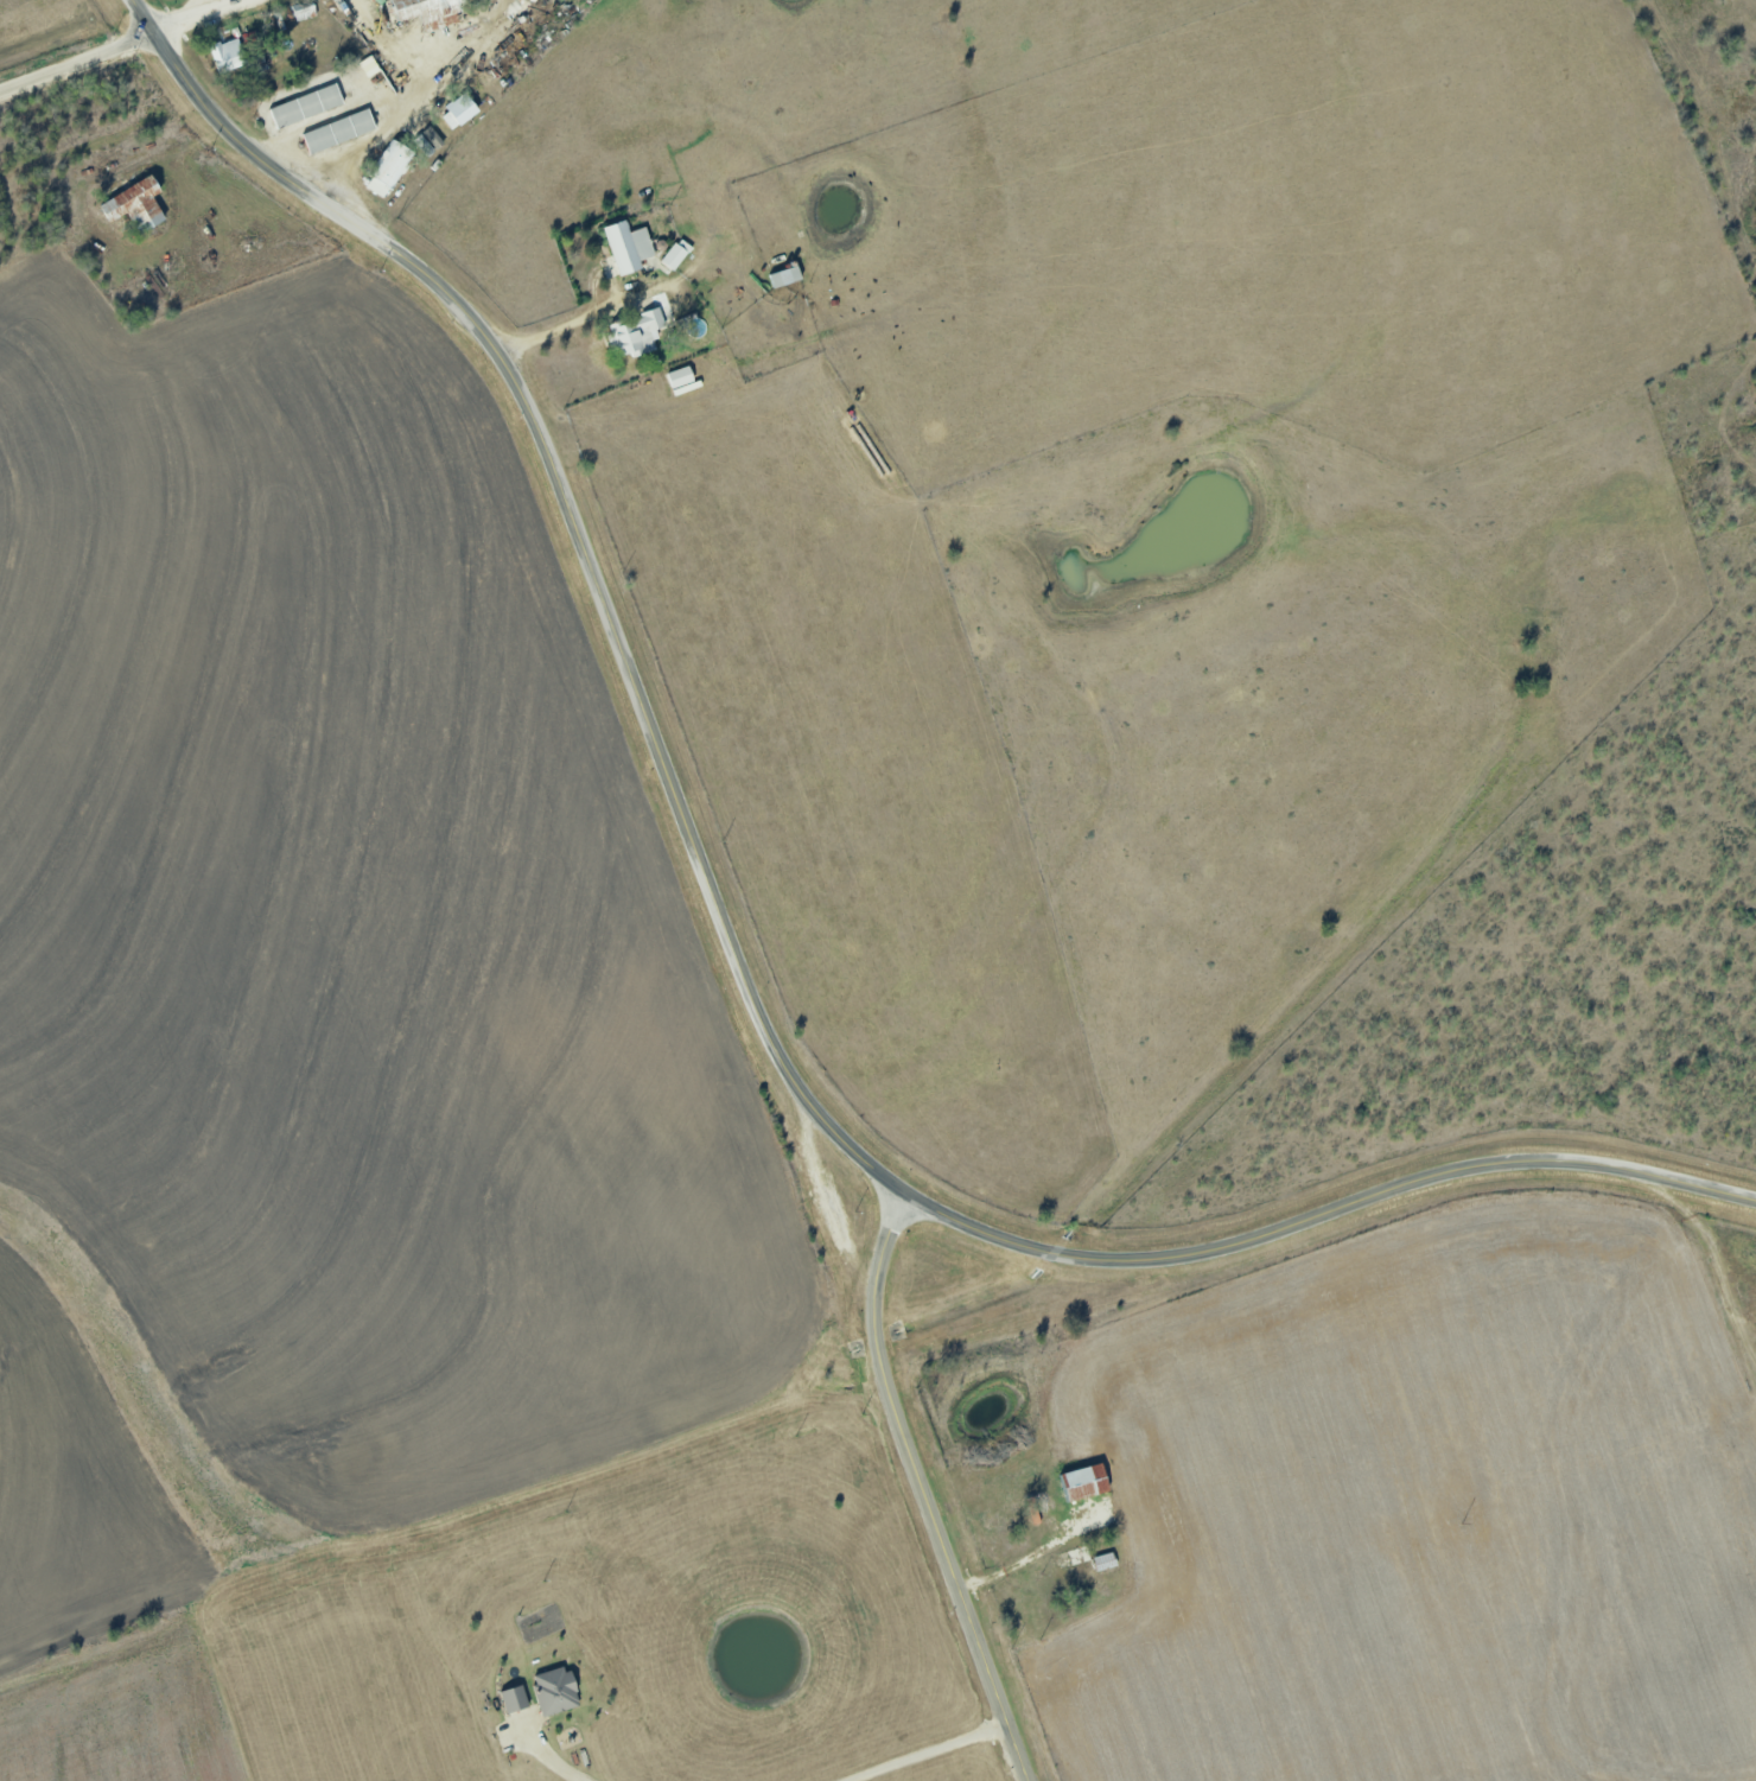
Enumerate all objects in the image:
road: (204, 5)
building: (426, 9)
road: (119, 46)
building: (228, 55)
building: (306, 107)
building: (459, 112)
building: (338, 132)
building: (433, 138)
building: (388, 170)
building: (135, 203)
building: (628, 246)
building: (676, 254)
building: (784, 276)
road: (583, 318)
building: (636, 333)
road: (584, 547)
road: (1325, 1213)
road: (914, 1457)
building: (1084, 1482)
building: (555, 1691)
road: (1017, 1750)
road: (929, 1753)
road: (558, 1764)

